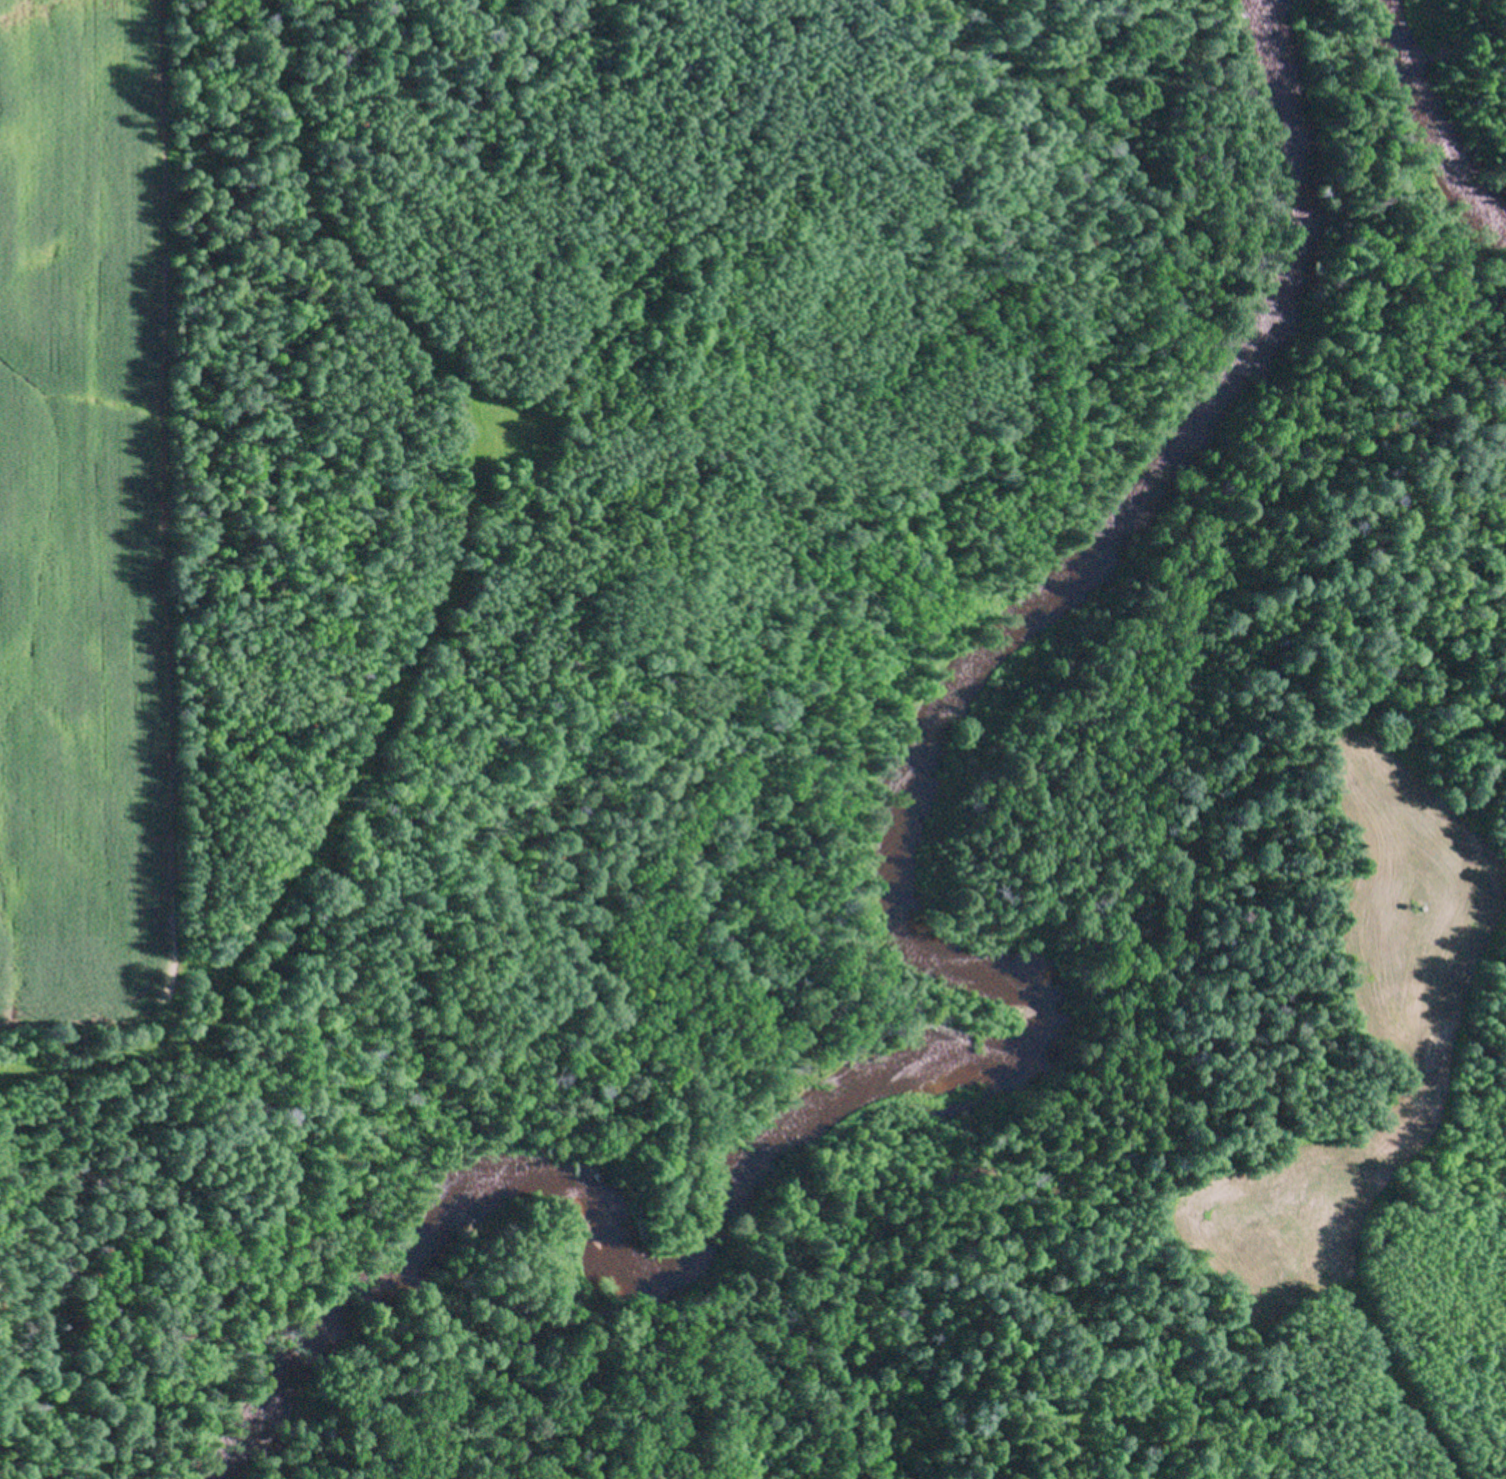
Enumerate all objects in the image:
river: (1435, 116)
crop: (85, 516)
river: (928, 968)

